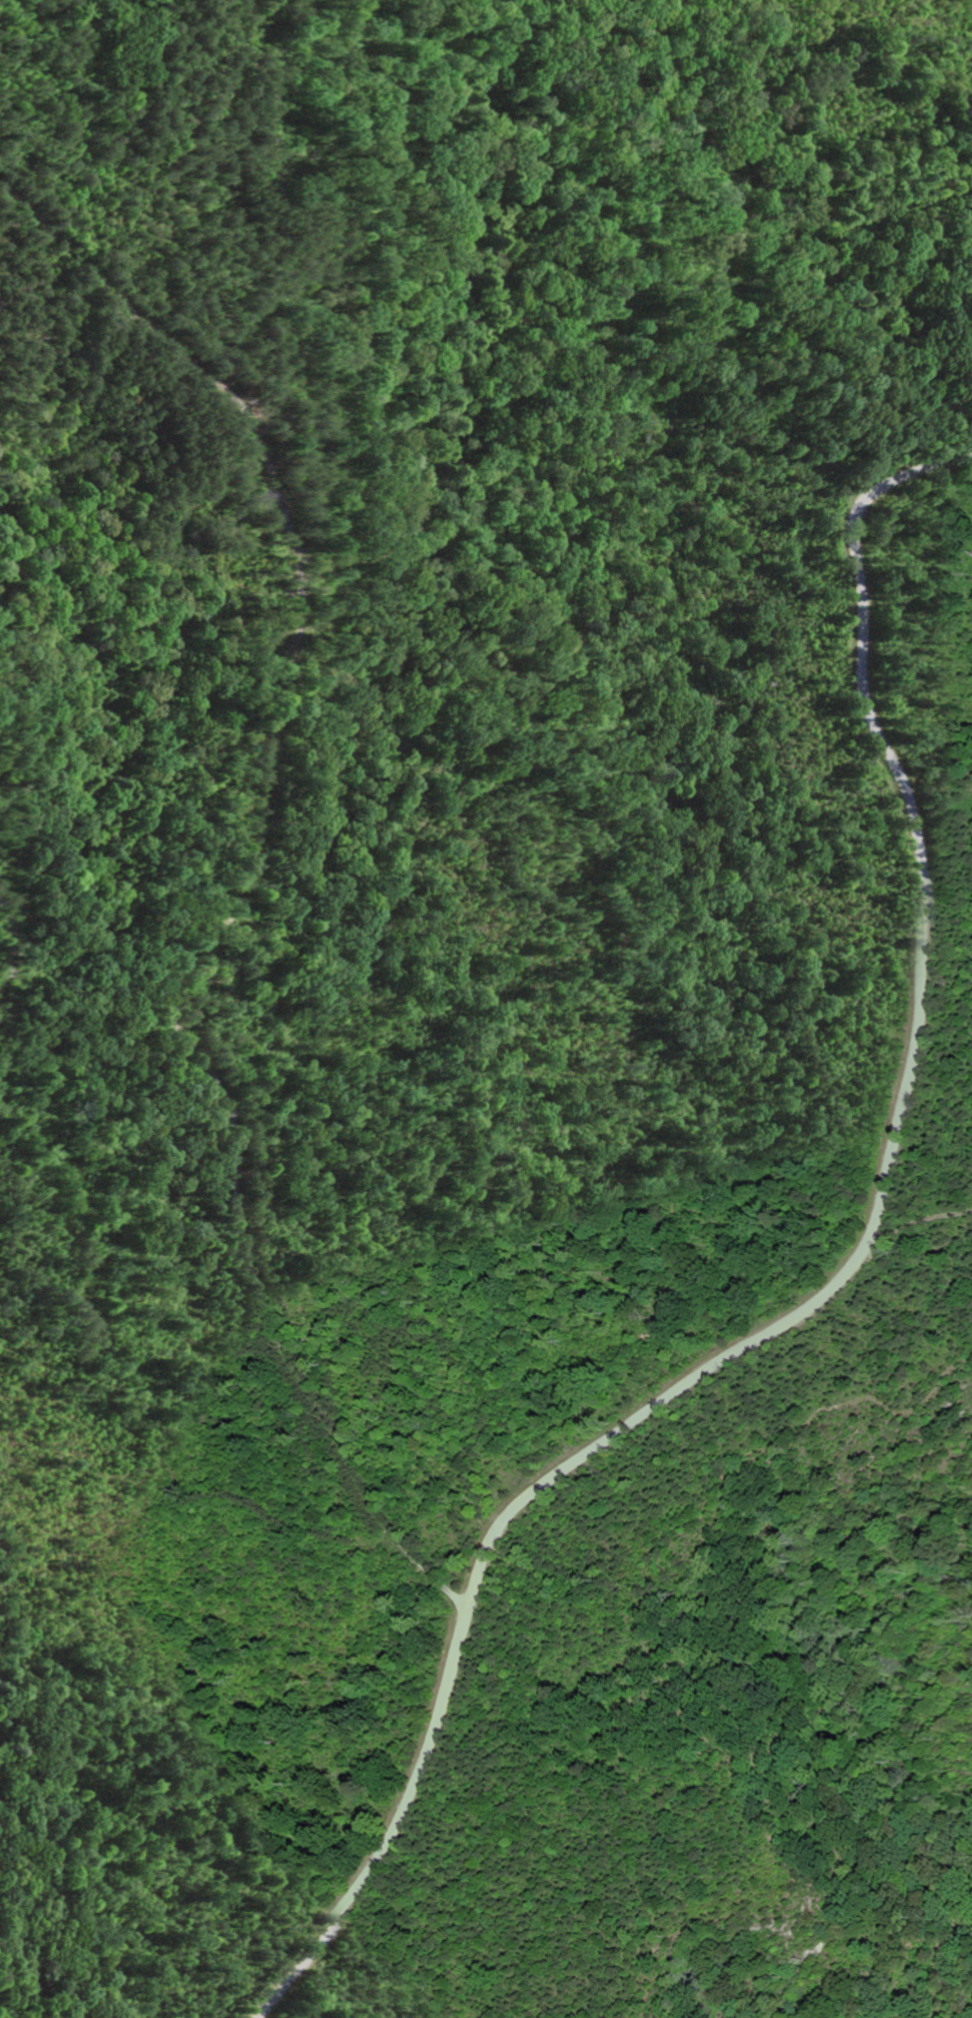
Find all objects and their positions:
road: (220, 899)
road: (828, 1297)

